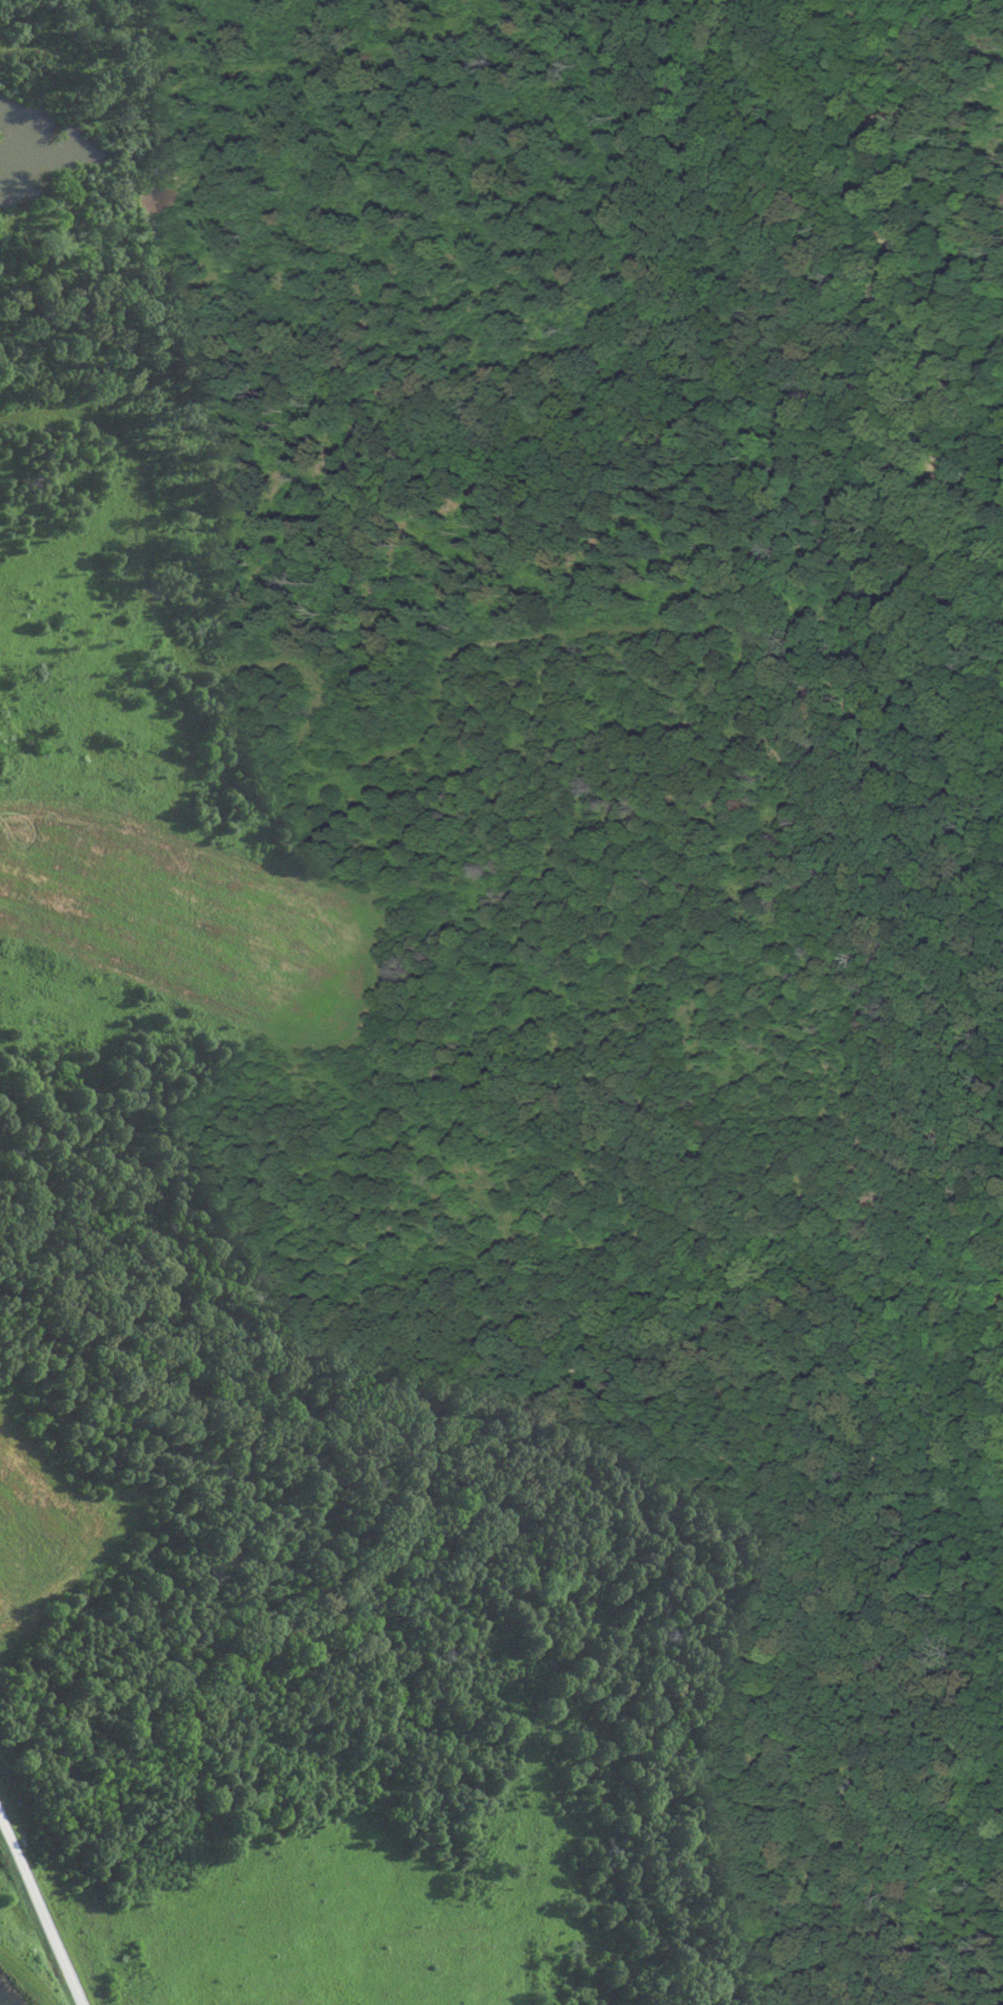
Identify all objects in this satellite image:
road: (42, 1911)

